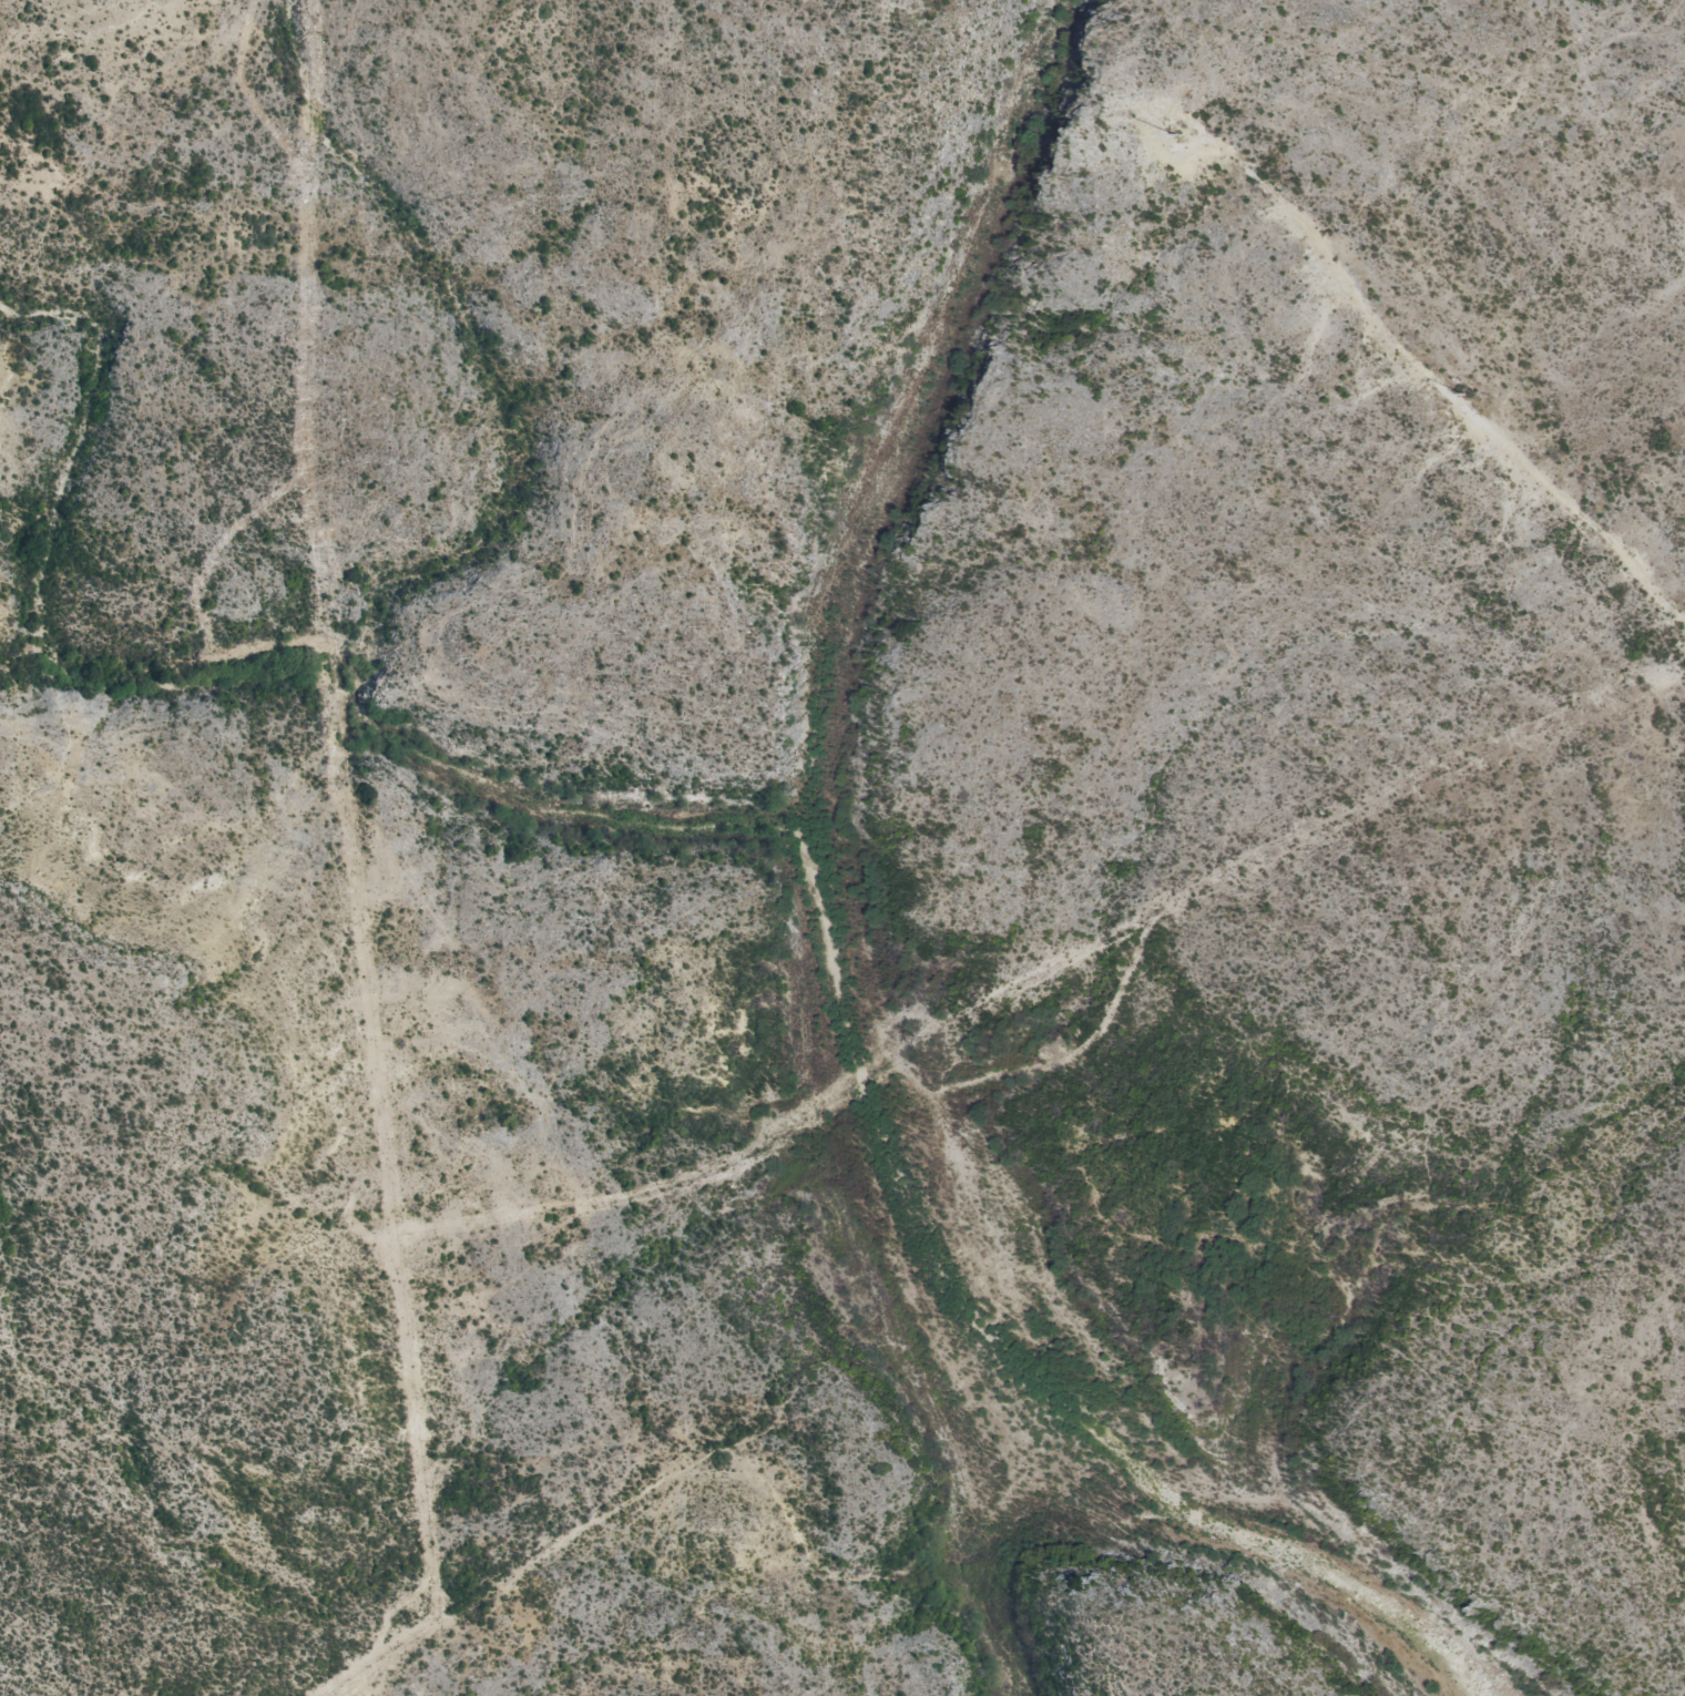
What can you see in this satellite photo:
power tower: (1176, 133)
power tower: (1364, 296)

